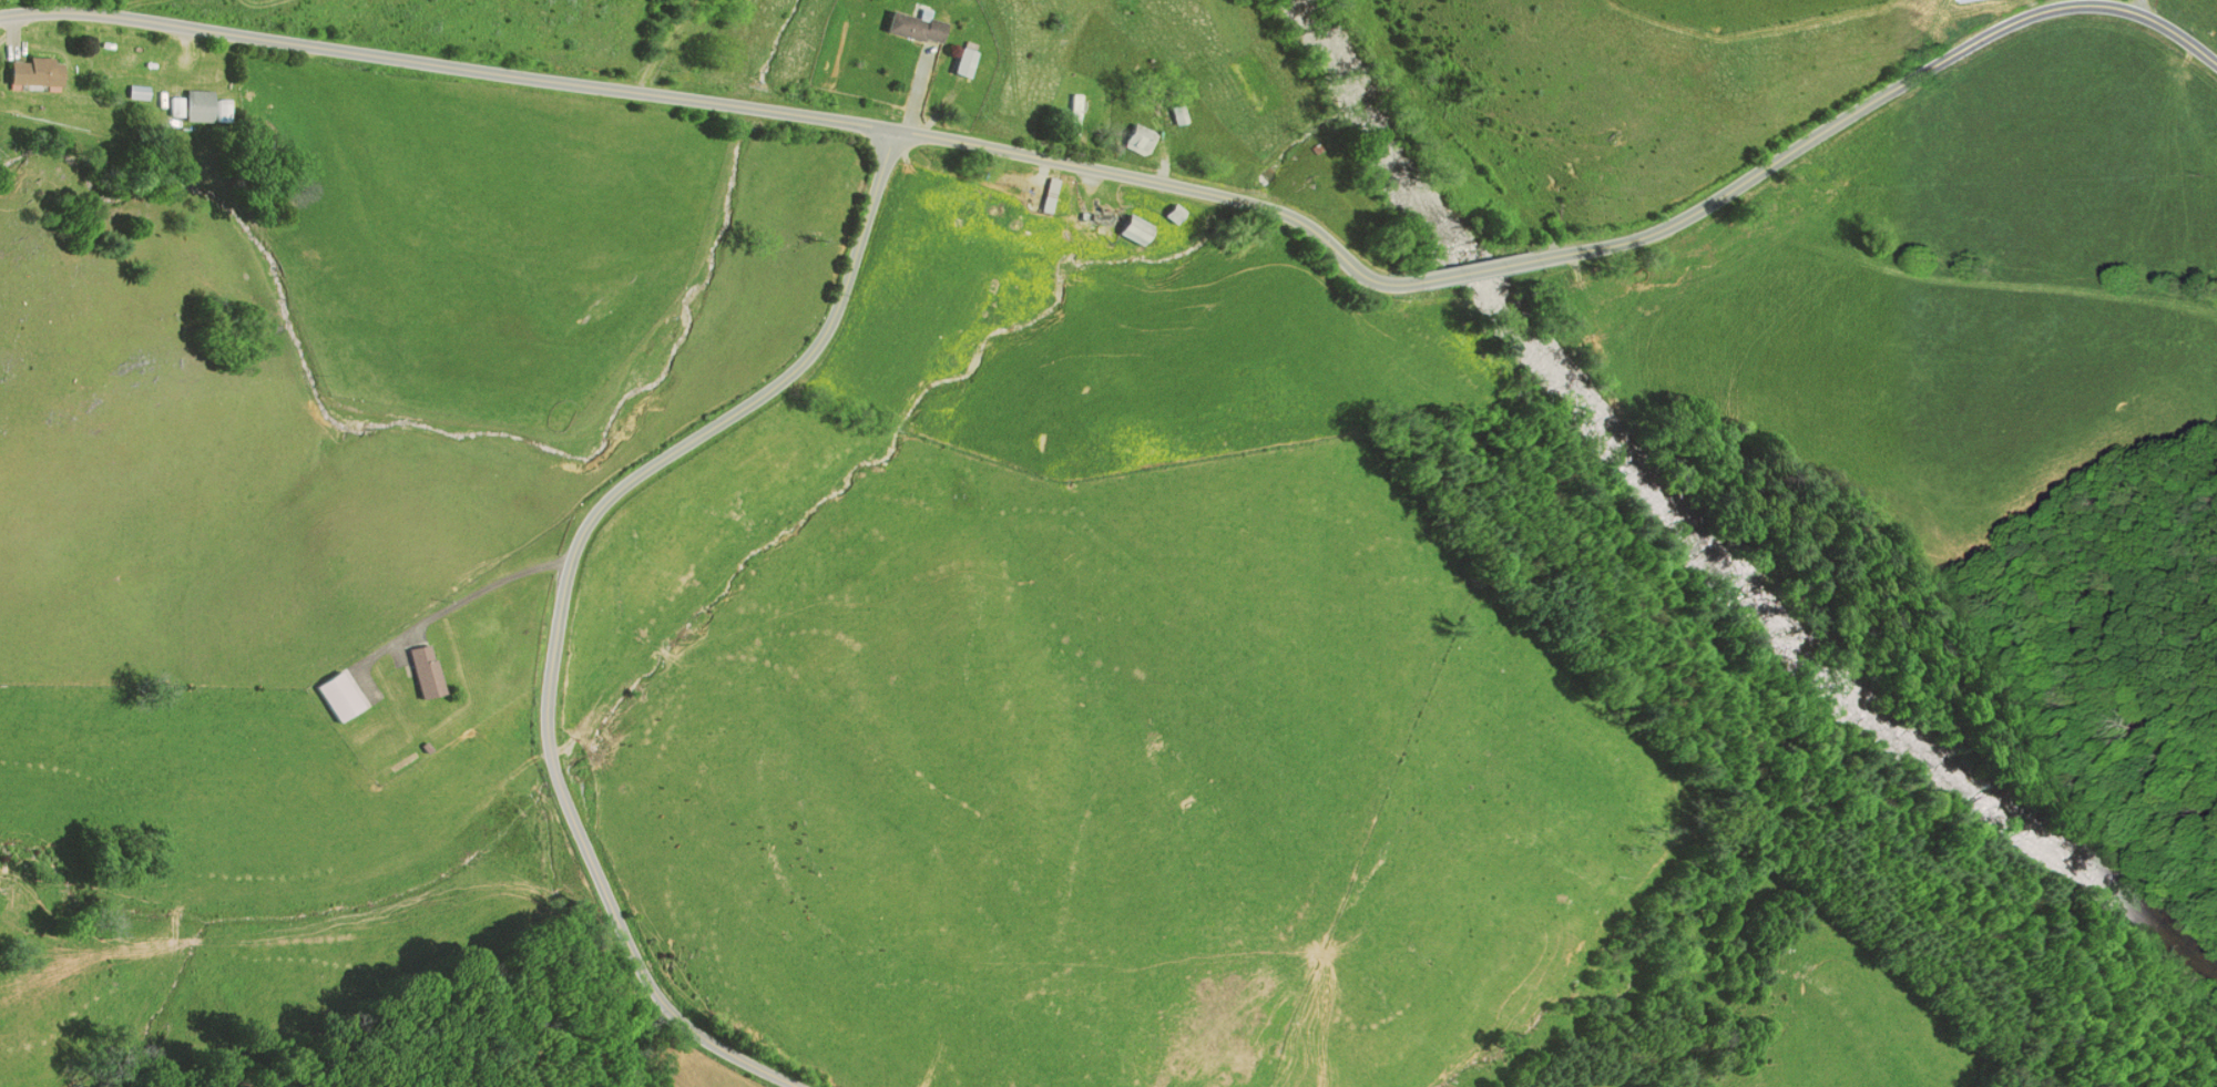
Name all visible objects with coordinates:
building: (1971, 0)
building: (912, 28)
river: (1349, 47)
building: (957, 64)
building: (28, 71)
building: (134, 91)
building: (195, 105)
building: (1175, 115)
building: (1074, 116)
building: (1136, 139)
road: (1155, 186)
building: (1048, 194)
building: (1176, 213)
building: (1095, 217)
building: (1135, 229)
river: (1744, 567)
road: (561, 597)
building: (415, 670)
building: (335, 696)

